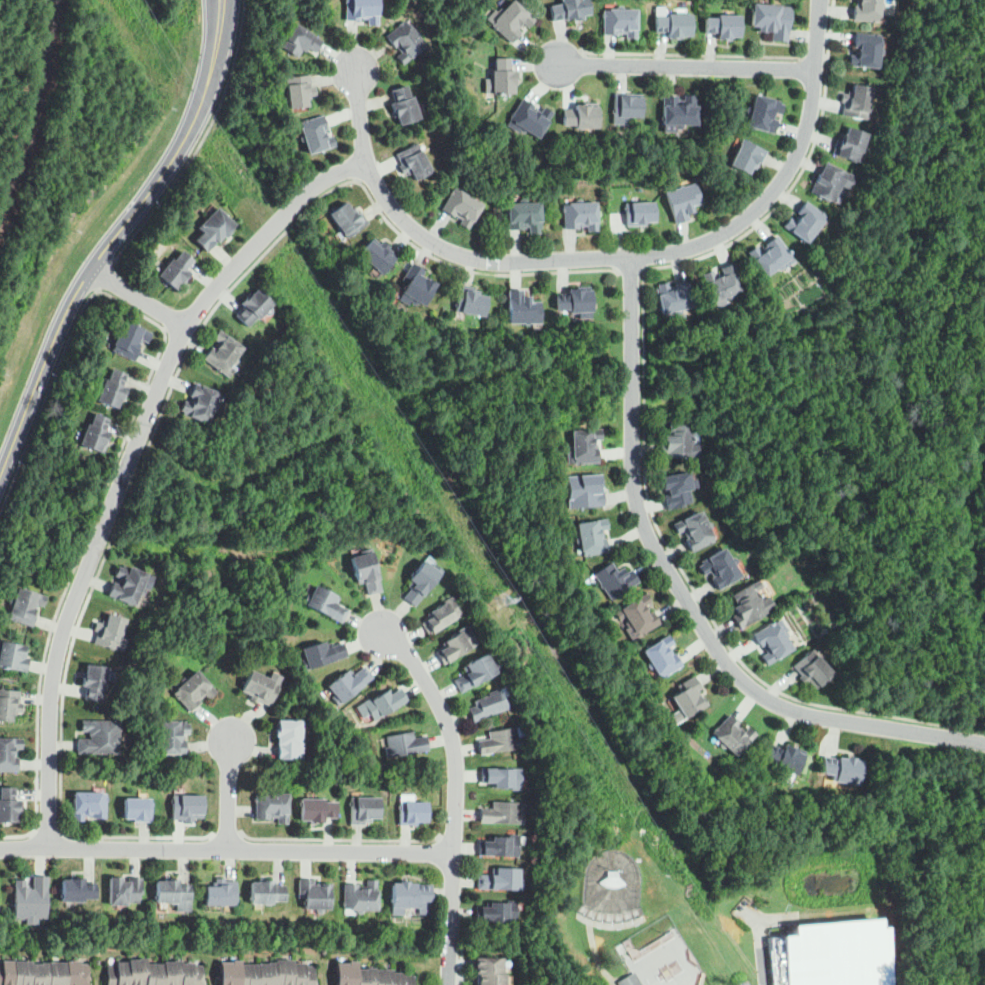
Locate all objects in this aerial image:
building: (570, 9)
building: (362, 10)
building: (868, 10)
building: (510, 20)
building: (772, 20)
building: (620, 22)
building: (674, 25)
building: (723, 26)
road: (211, 37)
road: (225, 39)
building: (301, 41)
building: (405, 41)
street lamp: (341, 46)
street lamp: (699, 50)
building: (866, 50)
road: (691, 54)
road: (814, 57)
road: (826, 57)
road: (569, 58)
road: (686, 67)
street lamp: (830, 72)
building: (503, 77)
road: (135, 80)
building: (299, 90)
building: (857, 102)
building: (404, 105)
building: (628, 105)
railway: (35, 107)
building: (680, 110)
building: (763, 113)
building: (582, 116)
building: (529, 119)
road: (181, 130)
building: (315, 134)
road: (202, 140)
road: (190, 142)
building: (851, 144)
road: (56, 147)
building: (747, 156)
building: (413, 162)
road: (363, 176)
building: (831, 182)
street lamp: (358, 186)
road: (232, 189)
building: (683, 202)
street lamp: (160, 206)
building: (462, 207)
building: (640, 213)
street lamp: (773, 214)
building: (525, 216)
building: (580, 216)
building: (348, 219)
building: (805, 222)
building: (213, 227)
road: (266, 233)
street lamp: (607, 245)
building: (378, 256)
building: (771, 257)
road: (612, 258)
road: (92, 267)
road: (631, 268)
road: (646, 269)
building: (177, 270)
road: (105, 275)
building: (724, 283)
building: (416, 286)
street lamp: (106, 296)
road: (139, 297)
building: (674, 297)
building: (576, 300)
building: (470, 301)
street lamp: (182, 305)
building: (253, 307)
building: (523, 308)
road: (167, 323)
building: (129, 340)
building: (223, 354)
road: (178, 356)
street lamp: (59, 376)
building: (113, 388)
road: (166, 399)
building: (201, 403)
road: (644, 424)
building: (96, 434)
road: (124, 439)
building: (679, 442)
building: (584, 447)
street lamp: (22, 464)
street lamp: (139, 477)
building: (678, 489)
building: (584, 491)
street lamp: (627, 511)
building: (695, 531)
building: (591, 537)
building: (720, 568)
building: (365, 571)
road: (82, 578)
building: (614, 580)
building: (421, 583)
building: (127, 585)
road: (684, 599)
power tower: (501, 600)
building: (749, 604)
building: (327, 605)
building: (25, 606)
building: (639, 615)
building: (444, 616)
building: (110, 633)
building: (772, 642)
building: (456, 645)
street lamp: (75, 652)
building: (321, 654)
building: (13, 656)
building: (662, 657)
street lamp: (708, 659)
street lamp: (395, 663)
building: (812, 670)
building: (476, 672)
building: (94, 681)
building: (350, 687)
building: (259, 688)
building: (193, 690)
building: (689, 697)
building: (9, 704)
building: (381, 707)
building: (489, 707)
street lamp: (254, 724)
building: (733, 735)
building: (99, 737)
building: (172, 737)
building: (289, 739)
street lamp: (884, 740)
building: (500, 741)
building: (405, 744)
building: (9, 754)
building: (785, 758)
building: (842, 769)
building: (504, 778)
road: (227, 793)
road: (455, 797)
building: (8, 805)
building: (88, 805)
building: (187, 807)
building: (272, 807)
building: (137, 809)
building: (317, 810)
building: (364, 810)
building: (412, 812)
building: (502, 812)
road: (48, 831)
road: (227, 833)
road: (447, 836)
road: (340, 838)
building: (500, 845)
road: (226, 848)
street lamp: (53, 859)
street lamp: (465, 859)
street lamp: (244, 861)
street lamp: (614, 869)
building: (613, 879)
building: (503, 881)
building: (76, 890)
building: (124, 890)
park: (612, 890)
park: (758, 890)
building: (171, 891)
building: (266, 892)
building: (221, 893)
building: (409, 894)
building: (314, 895)
building: (361, 896)
building: (31, 900)
building: (503, 914)
street lamp: (661, 931)
street lamp: (638, 946)
building: (831, 953)
street lamp: (466, 954)
road: (595, 955)
street lamp: (583, 957)
park: (662, 960)
road: (461, 964)
road: (764, 966)
building: (492, 971)
building: (44, 972)
building: (154, 973)
building: (267, 973)
building: (371, 976)
road: (623, 976)
building: (630, 980)

